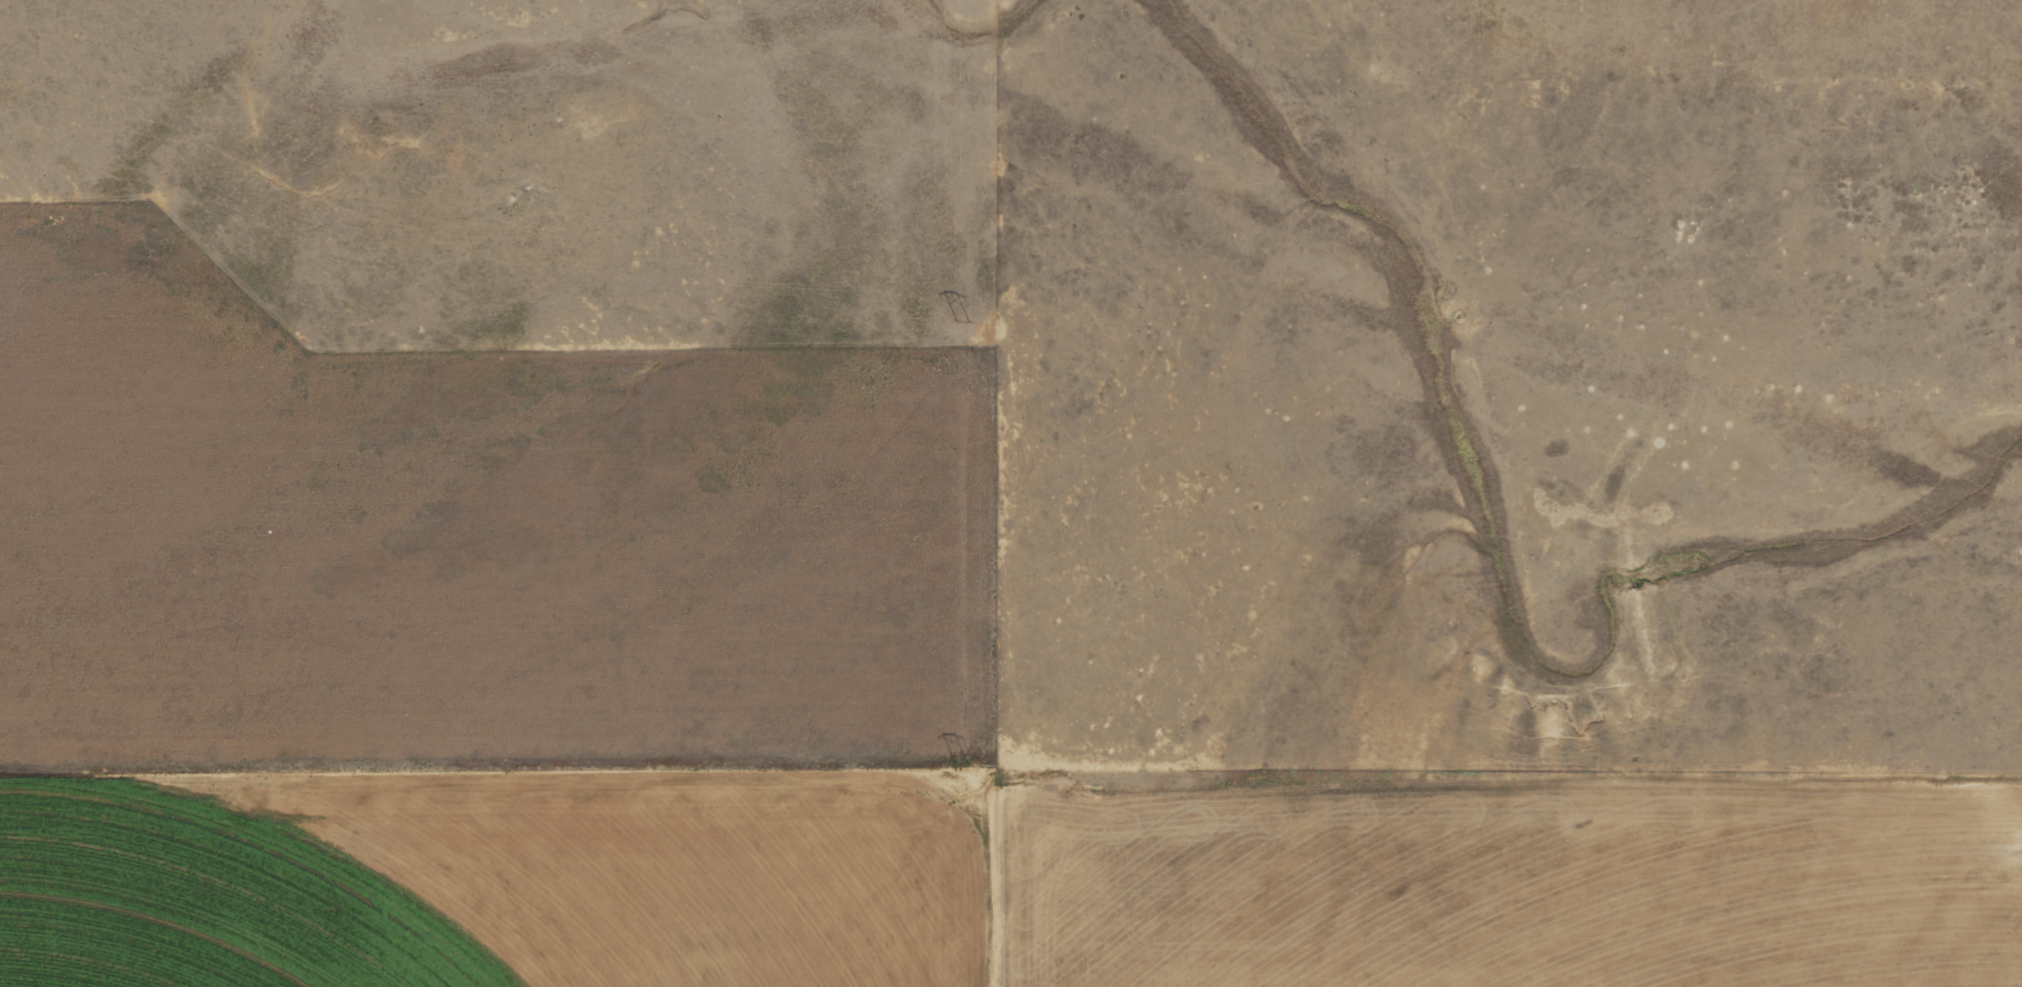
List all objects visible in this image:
power tower: (961, 323)
road: (988, 493)
power tower: (960, 765)

